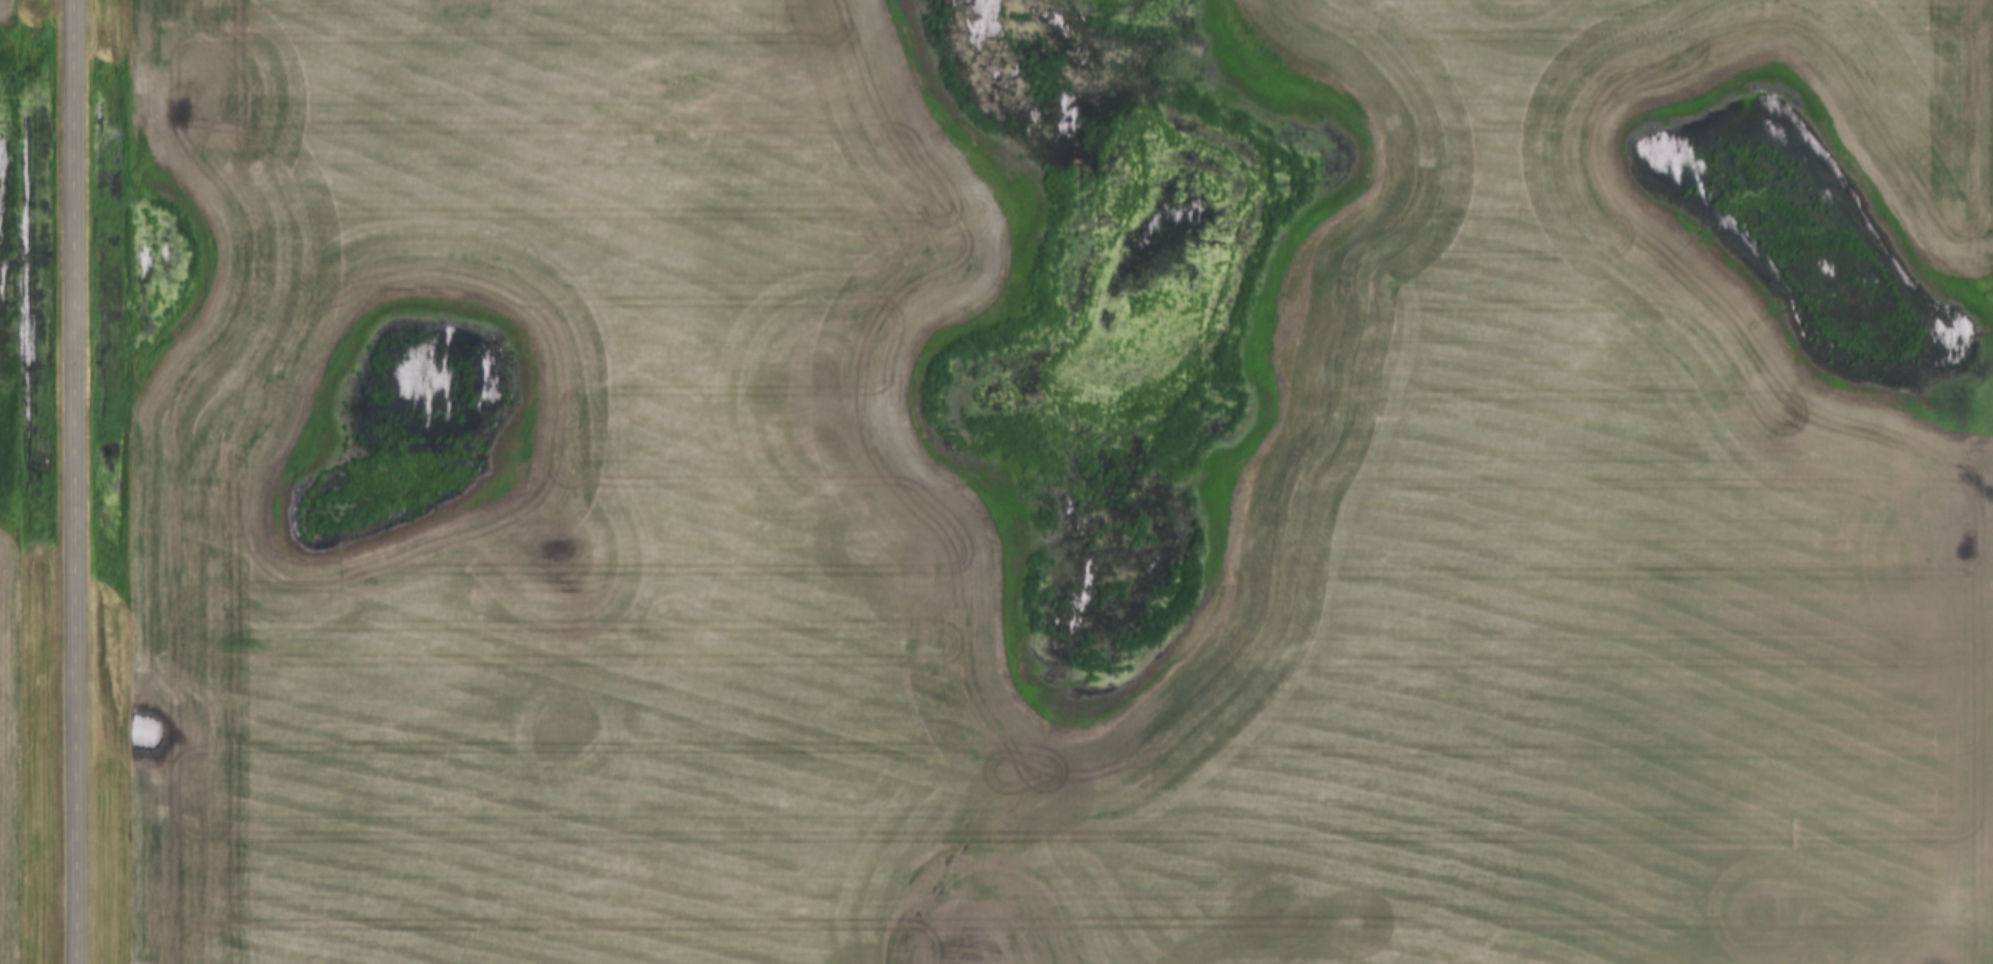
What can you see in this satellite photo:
road: (75, 482)

